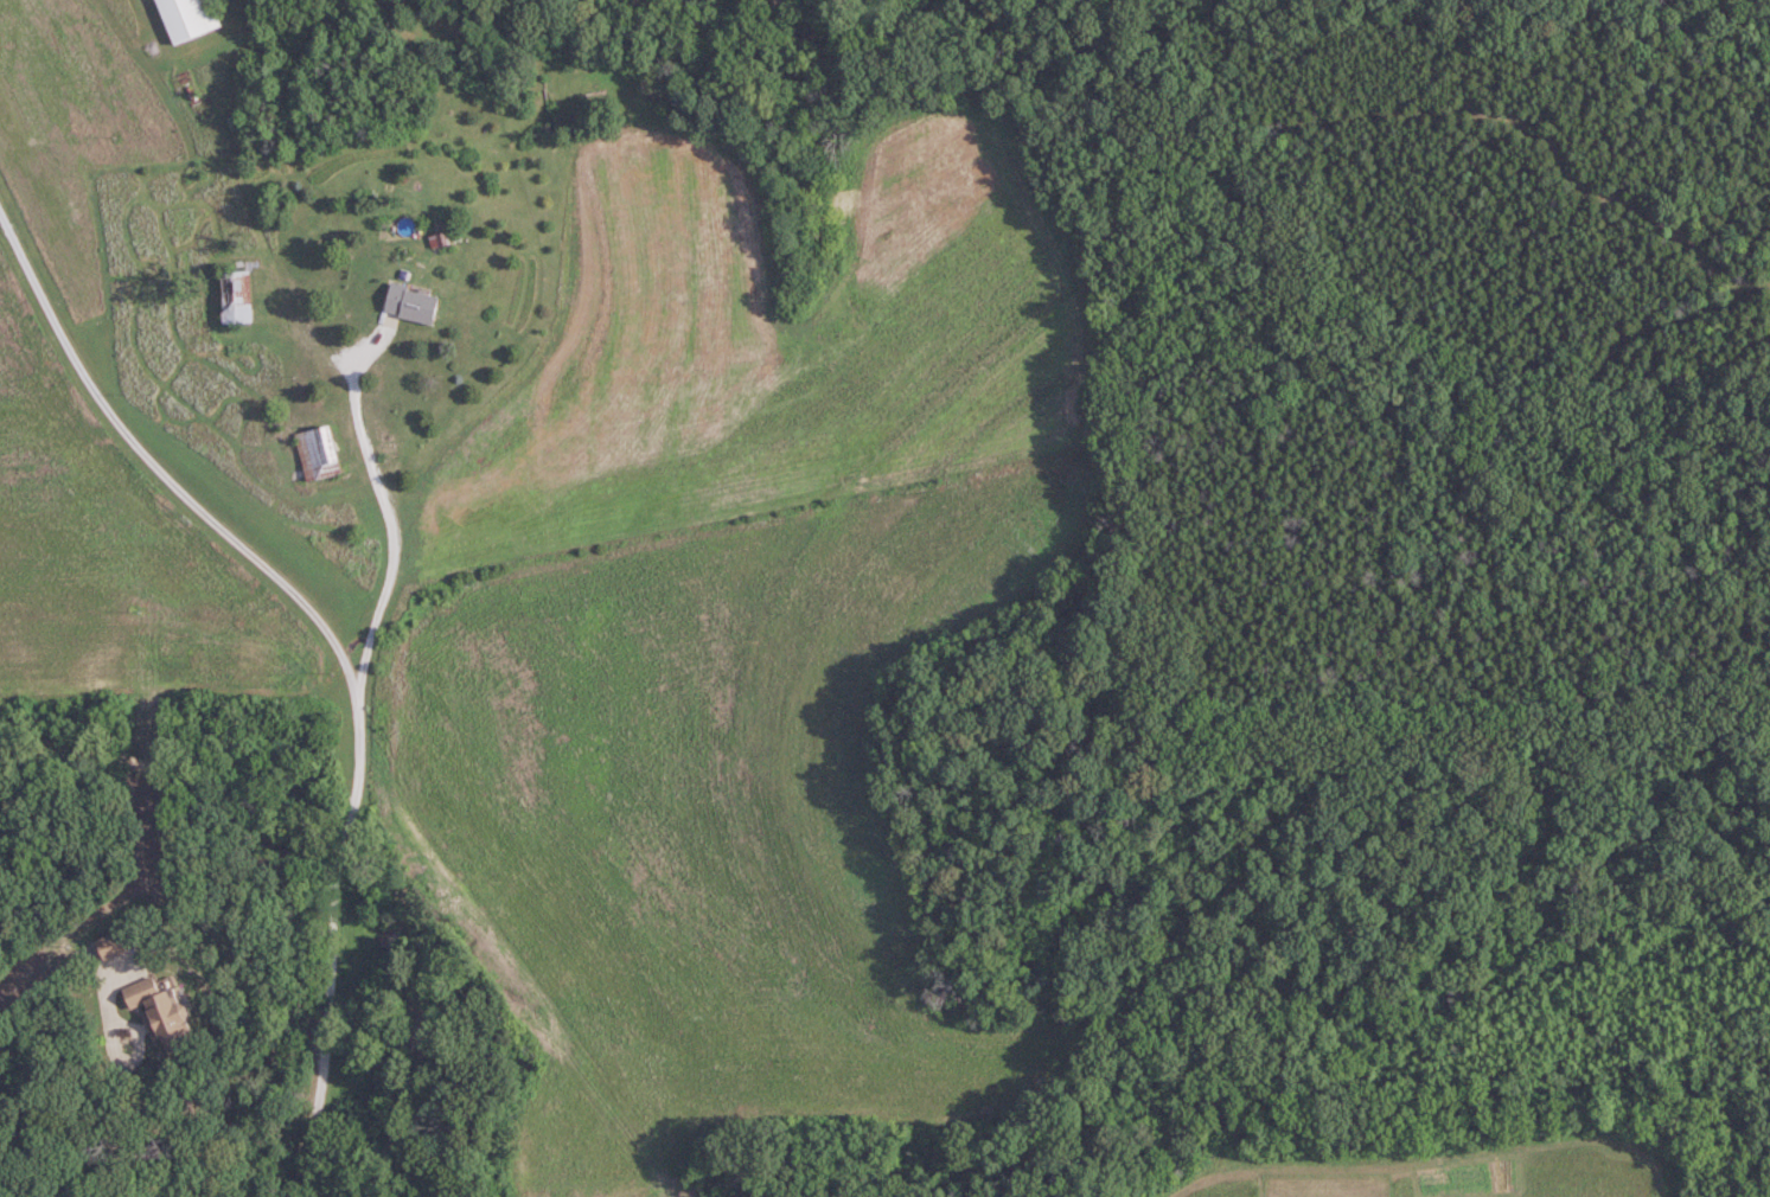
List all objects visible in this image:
building: (188, 18)
building: (446, 238)
building: (237, 296)
building: (413, 302)
building: (318, 449)
road: (395, 521)
road: (339, 647)
building: (111, 945)
building: (161, 1009)
road: (127, 1112)

